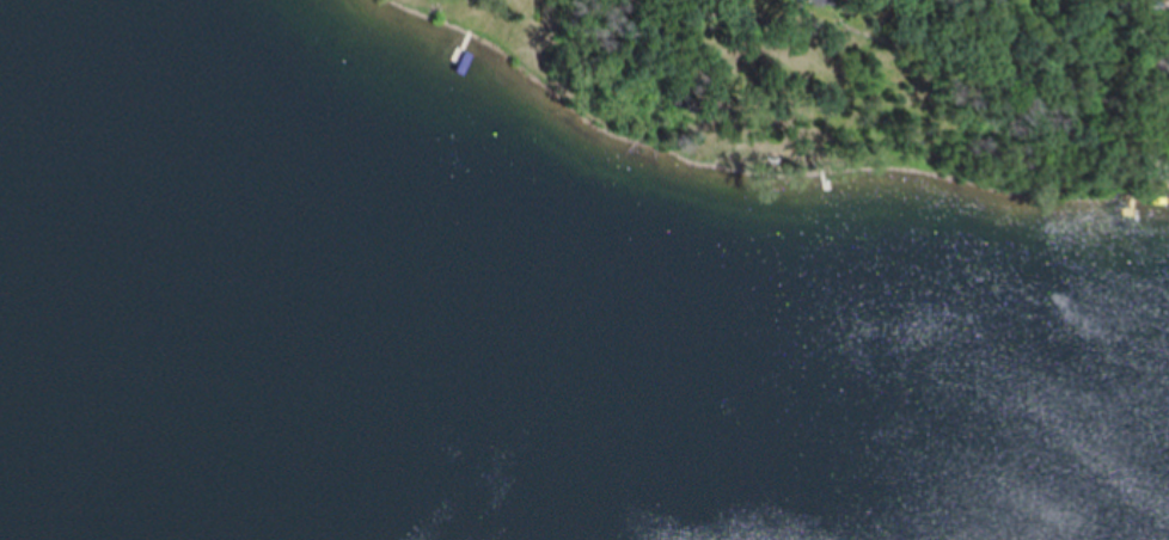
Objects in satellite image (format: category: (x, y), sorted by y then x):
building: (1168, 0)
building: (801, 2)

